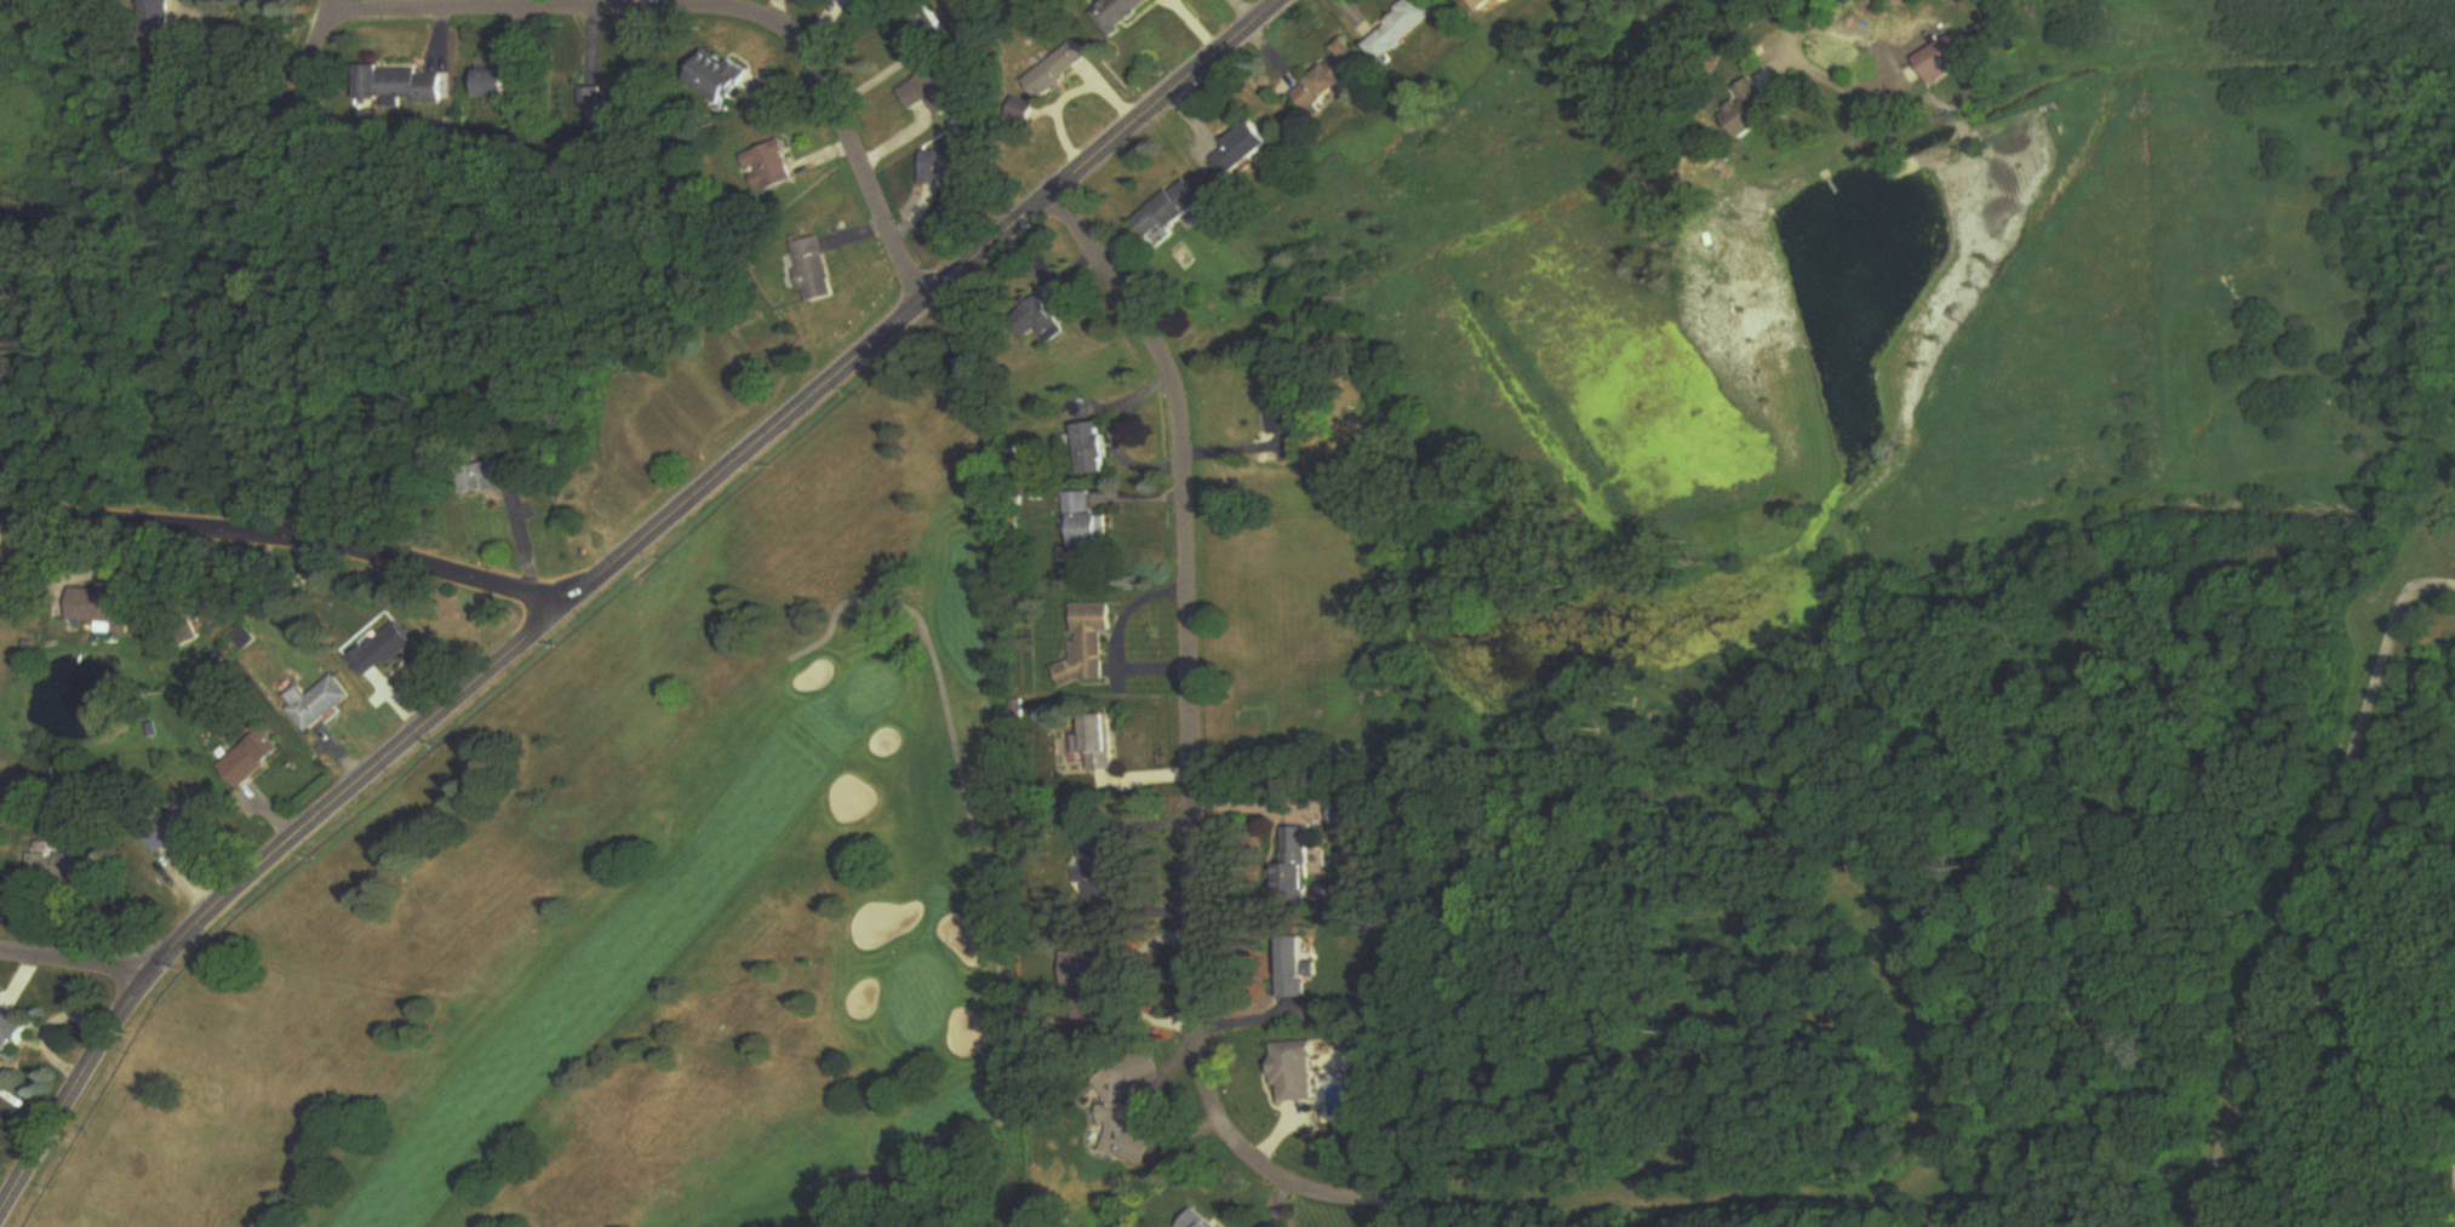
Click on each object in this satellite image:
building: (1489, 1)
building: (1509, 1)
road: (714, 12)
building: (1123, 15)
building: (154, 21)
building: (932, 25)
building: (1400, 29)
road: (1787, 31)
building: (1940, 63)
building: (1060, 70)
building: (719, 78)
building: (1332, 78)
building: (500, 85)
building: (394, 86)
building: (937, 93)
building: (612, 110)
building: (1753, 110)
building: (1024, 113)
building: (1243, 149)
building: (771, 167)
building: (942, 168)
building: (1171, 211)
road: (210, 256)
building: (812, 273)
road: (929, 306)
building: (1046, 322)
building: (1280, 400)
building: (1095, 449)
building: (488, 477)
building: (1087, 531)
road: (287, 544)
building: (105, 608)
building: (1091, 646)
building: (384, 653)
building: (317, 704)
building: (1103, 744)
building: (252, 759)
building: (176, 826)
building: (1099, 854)
building: (1301, 867)
building: (61, 871)
road: (245, 879)
road: (2306, 887)
park: (653, 913)
road: (74, 962)
building: (1298, 968)
building: (1086, 970)
building: (19, 987)
building: (13, 1032)
building: (1298, 1074)
road: (1204, 1083)
building: (1121, 1122)
building: (1196, 1221)

